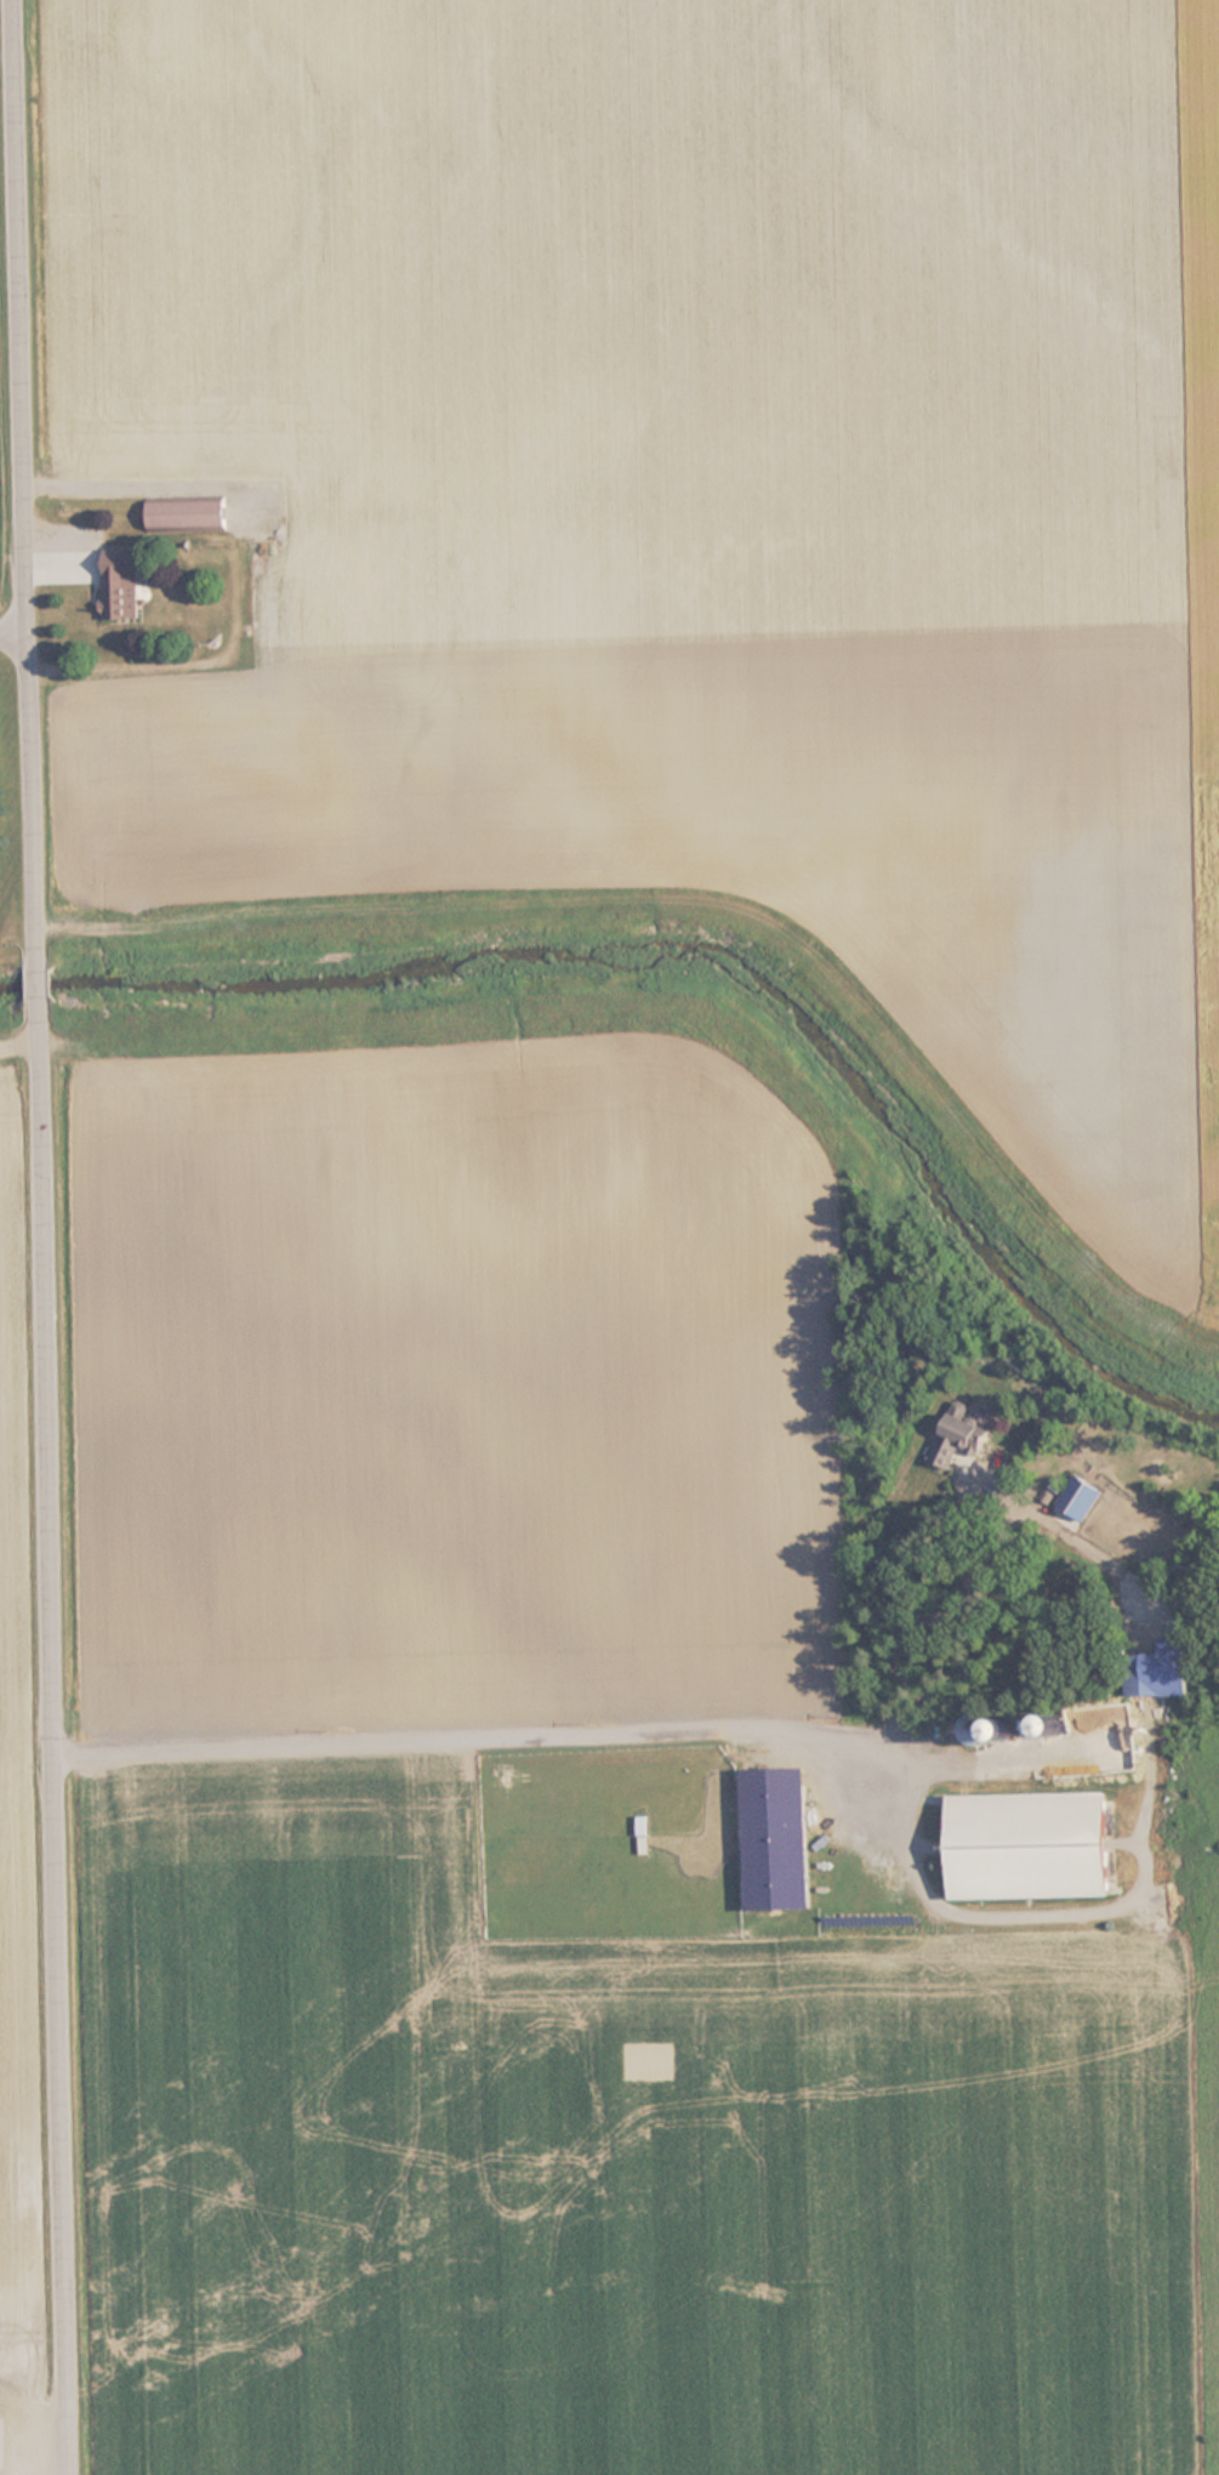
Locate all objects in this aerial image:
building: (187, 516)
building: (121, 588)
building: (267, 590)
road: (17, 631)
road: (51, 1236)
building: (962, 1435)
building: (1084, 1497)
building: (1149, 1674)
building: (779, 1839)
building: (1031, 1847)

